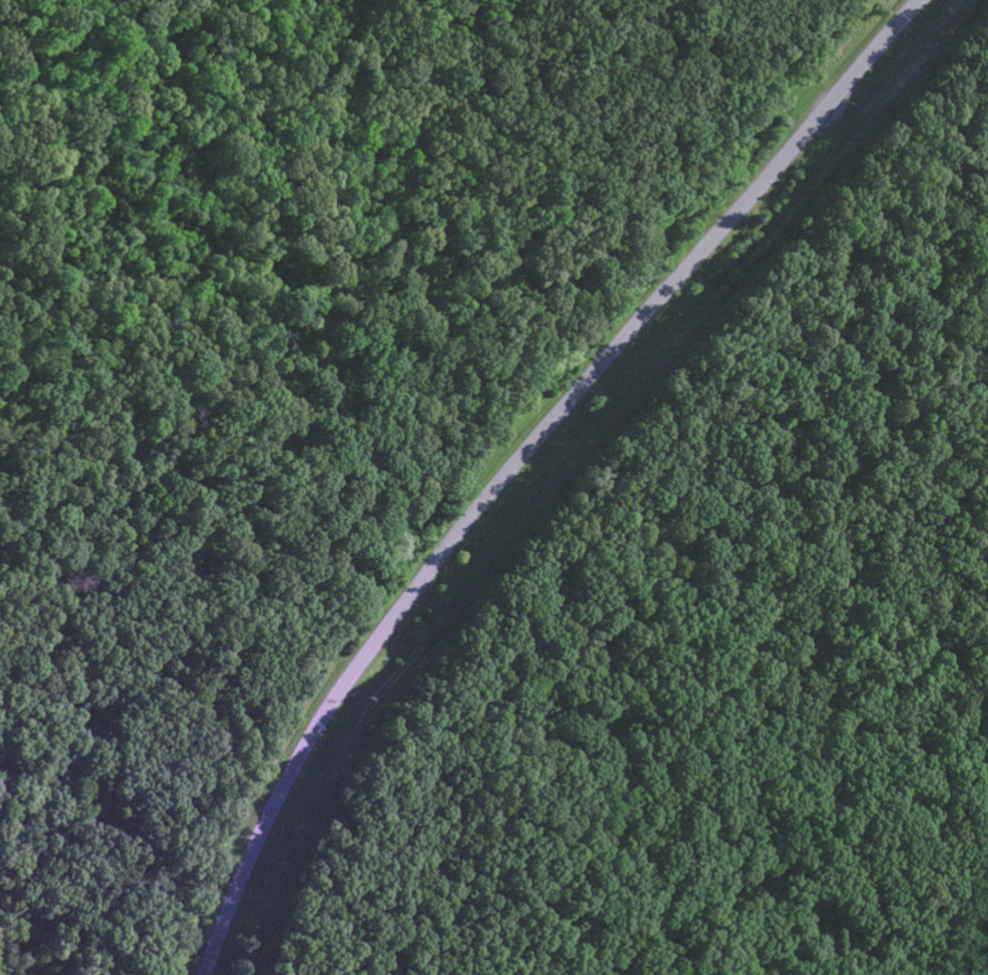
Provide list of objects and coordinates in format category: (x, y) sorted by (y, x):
road: (522, 459)

